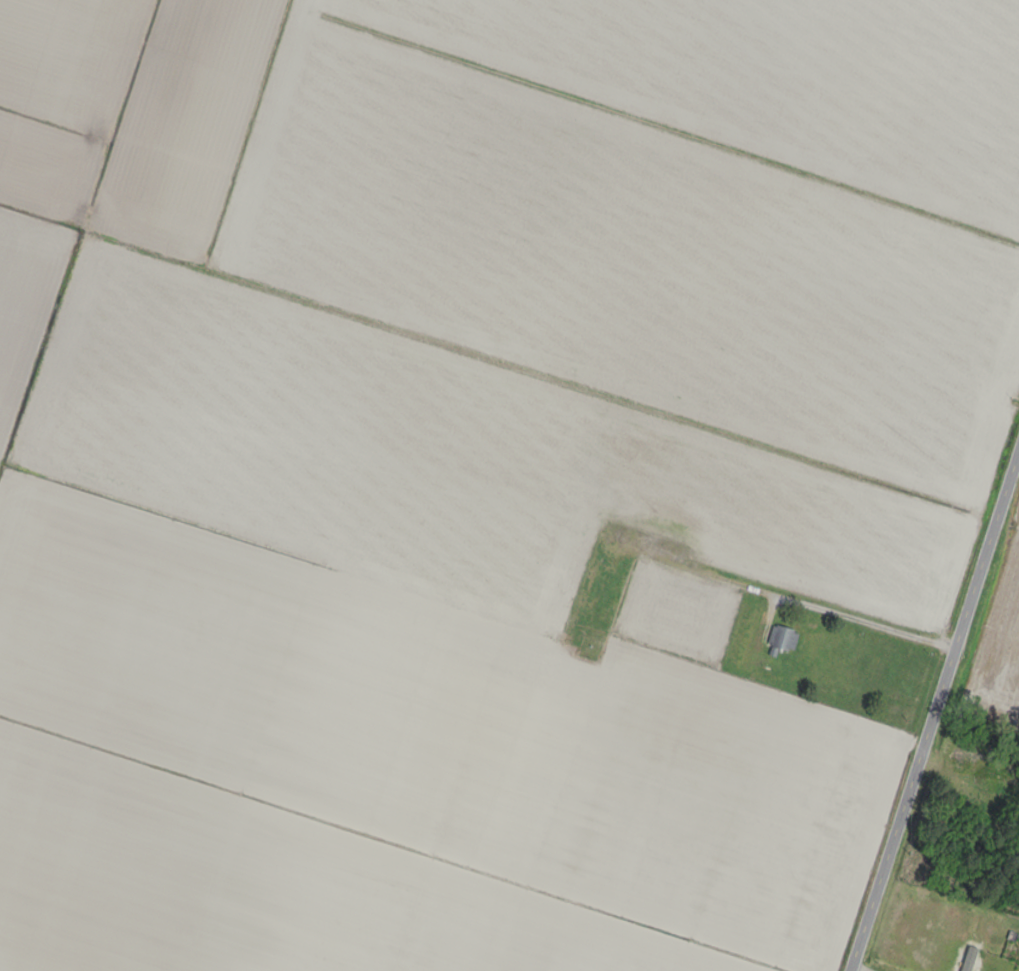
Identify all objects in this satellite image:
road: (854, 618)
building: (781, 638)
road: (934, 716)
building: (967, 958)

